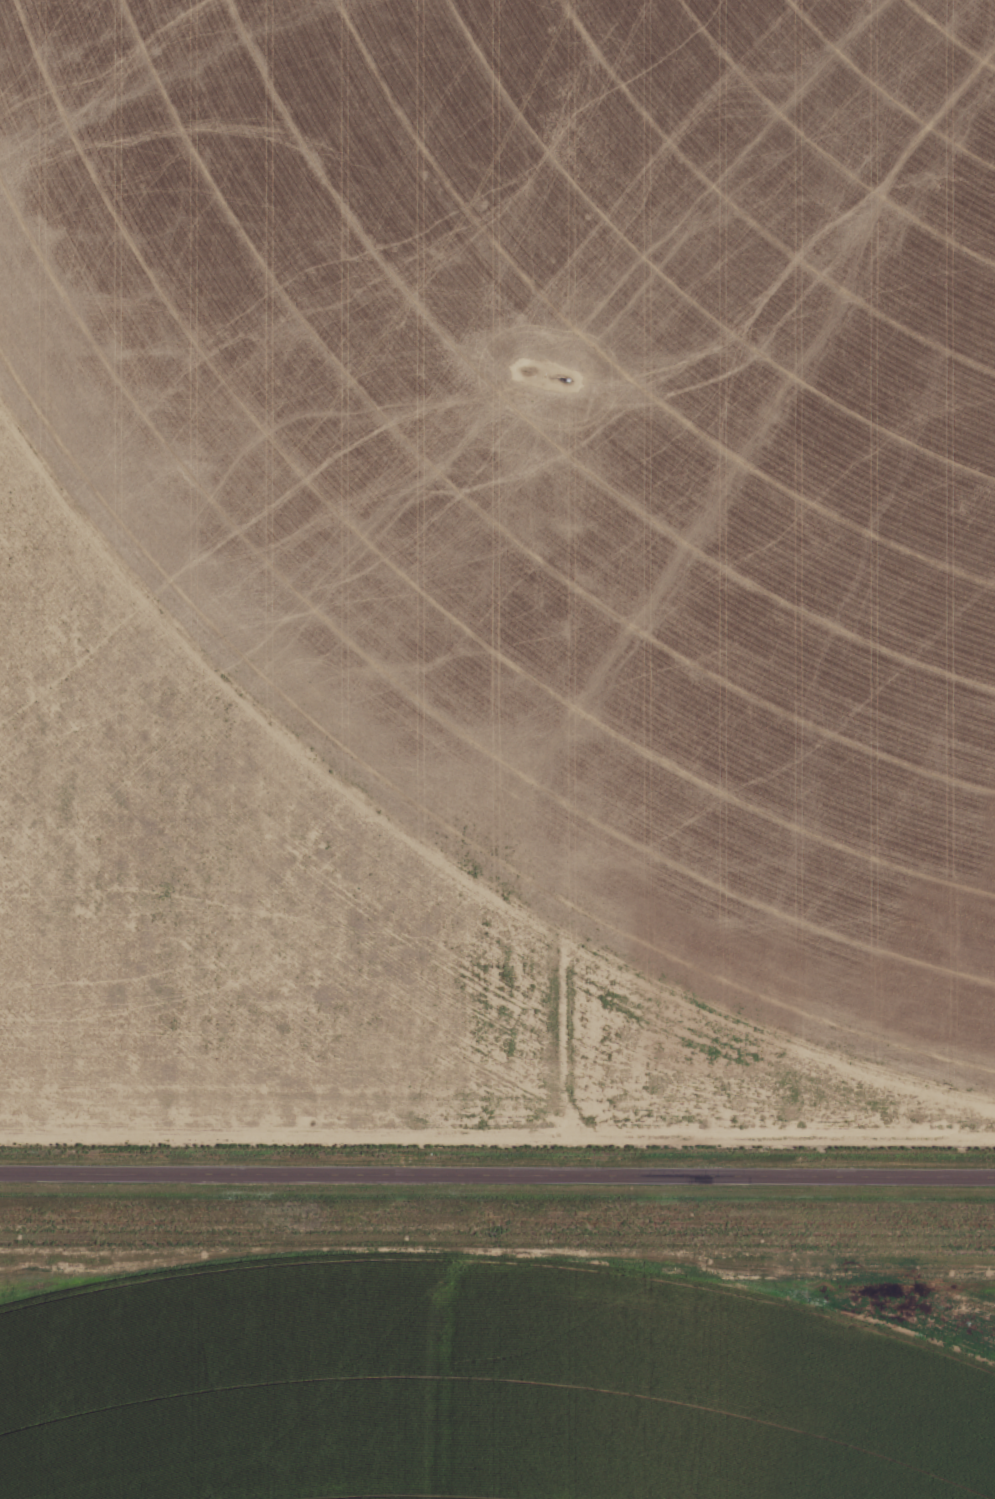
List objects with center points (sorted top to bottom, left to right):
road: (497, 1171)

